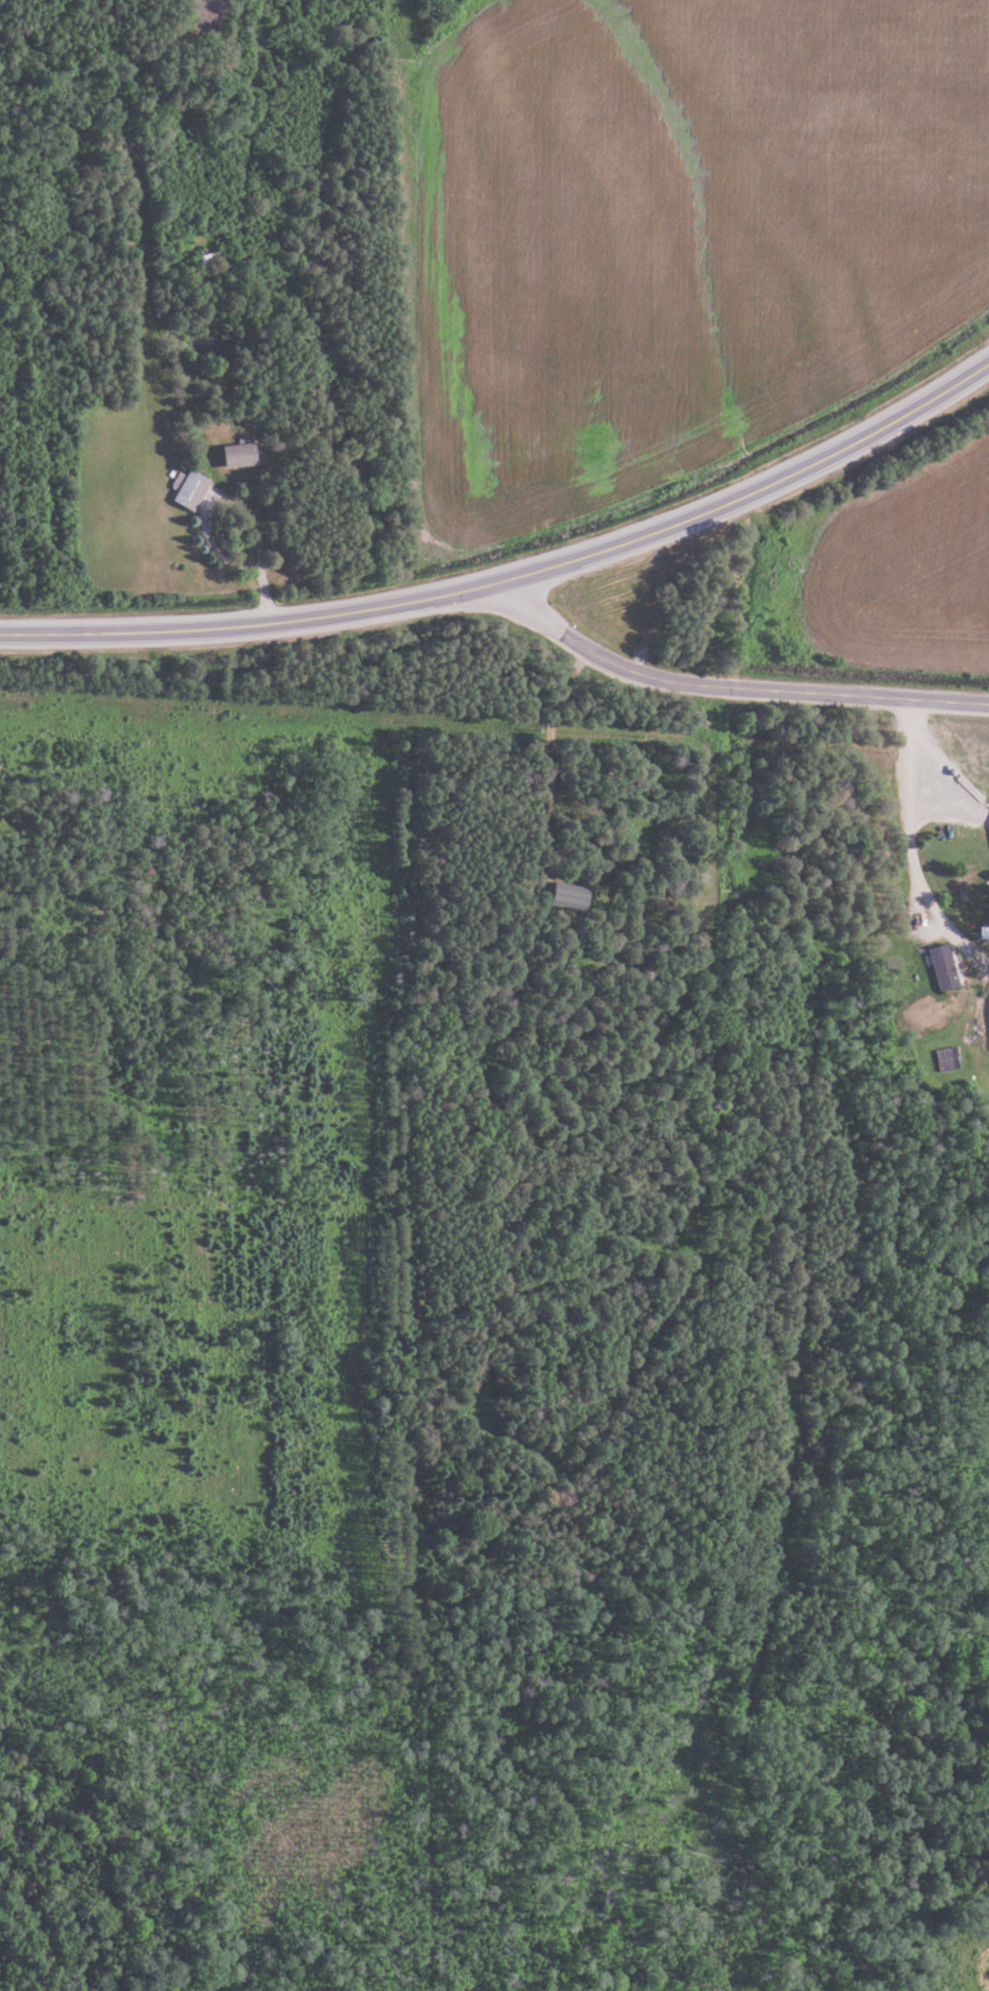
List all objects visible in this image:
building: (213, 259)
building: (239, 456)
building: (191, 491)
road: (516, 575)
road: (729, 686)
road: (918, 804)
building: (568, 895)
building: (945, 967)

